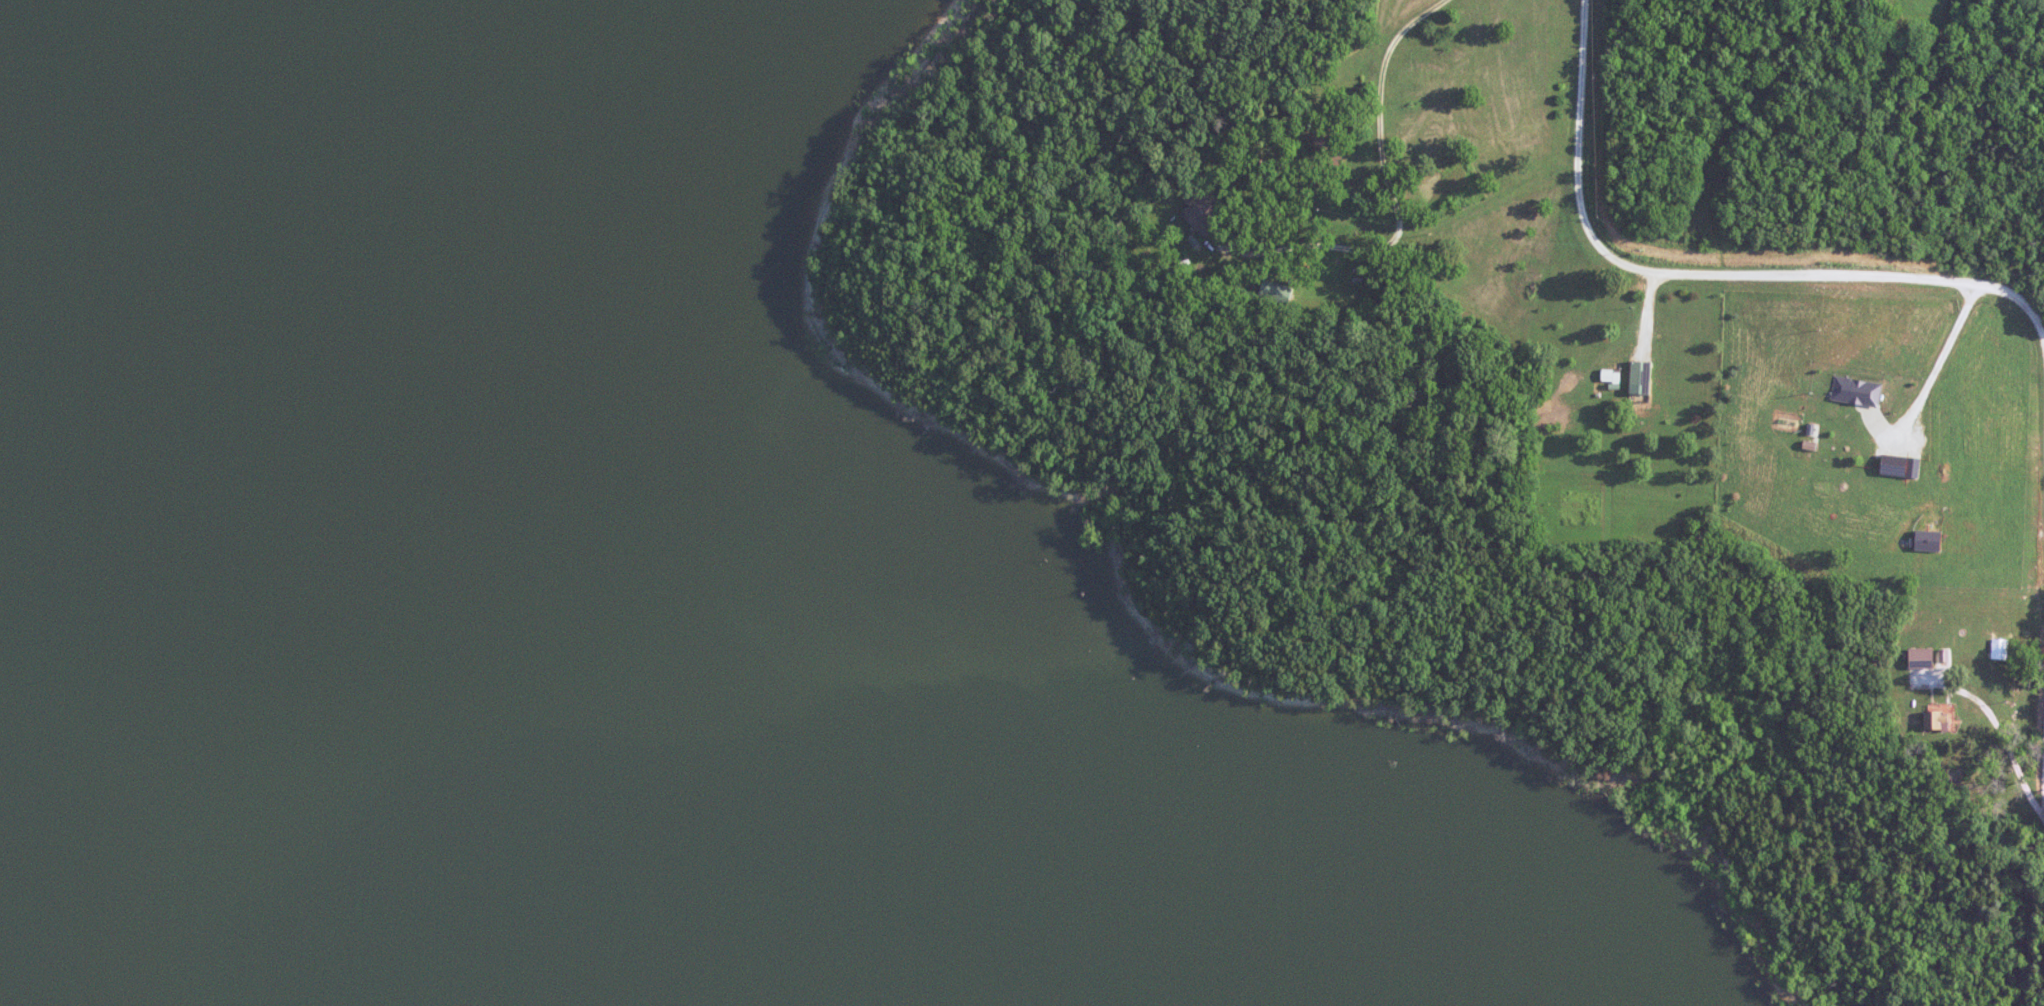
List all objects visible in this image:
building: (1325, 141)
road: (1393, 197)
building: (1206, 211)
road: (1703, 274)
building: (1276, 293)
road: (1942, 355)
building: (1641, 377)
building: (1972, 641)
building: (2000, 649)
building: (1940, 720)
road: (2043, 720)
road: (2042, 780)

